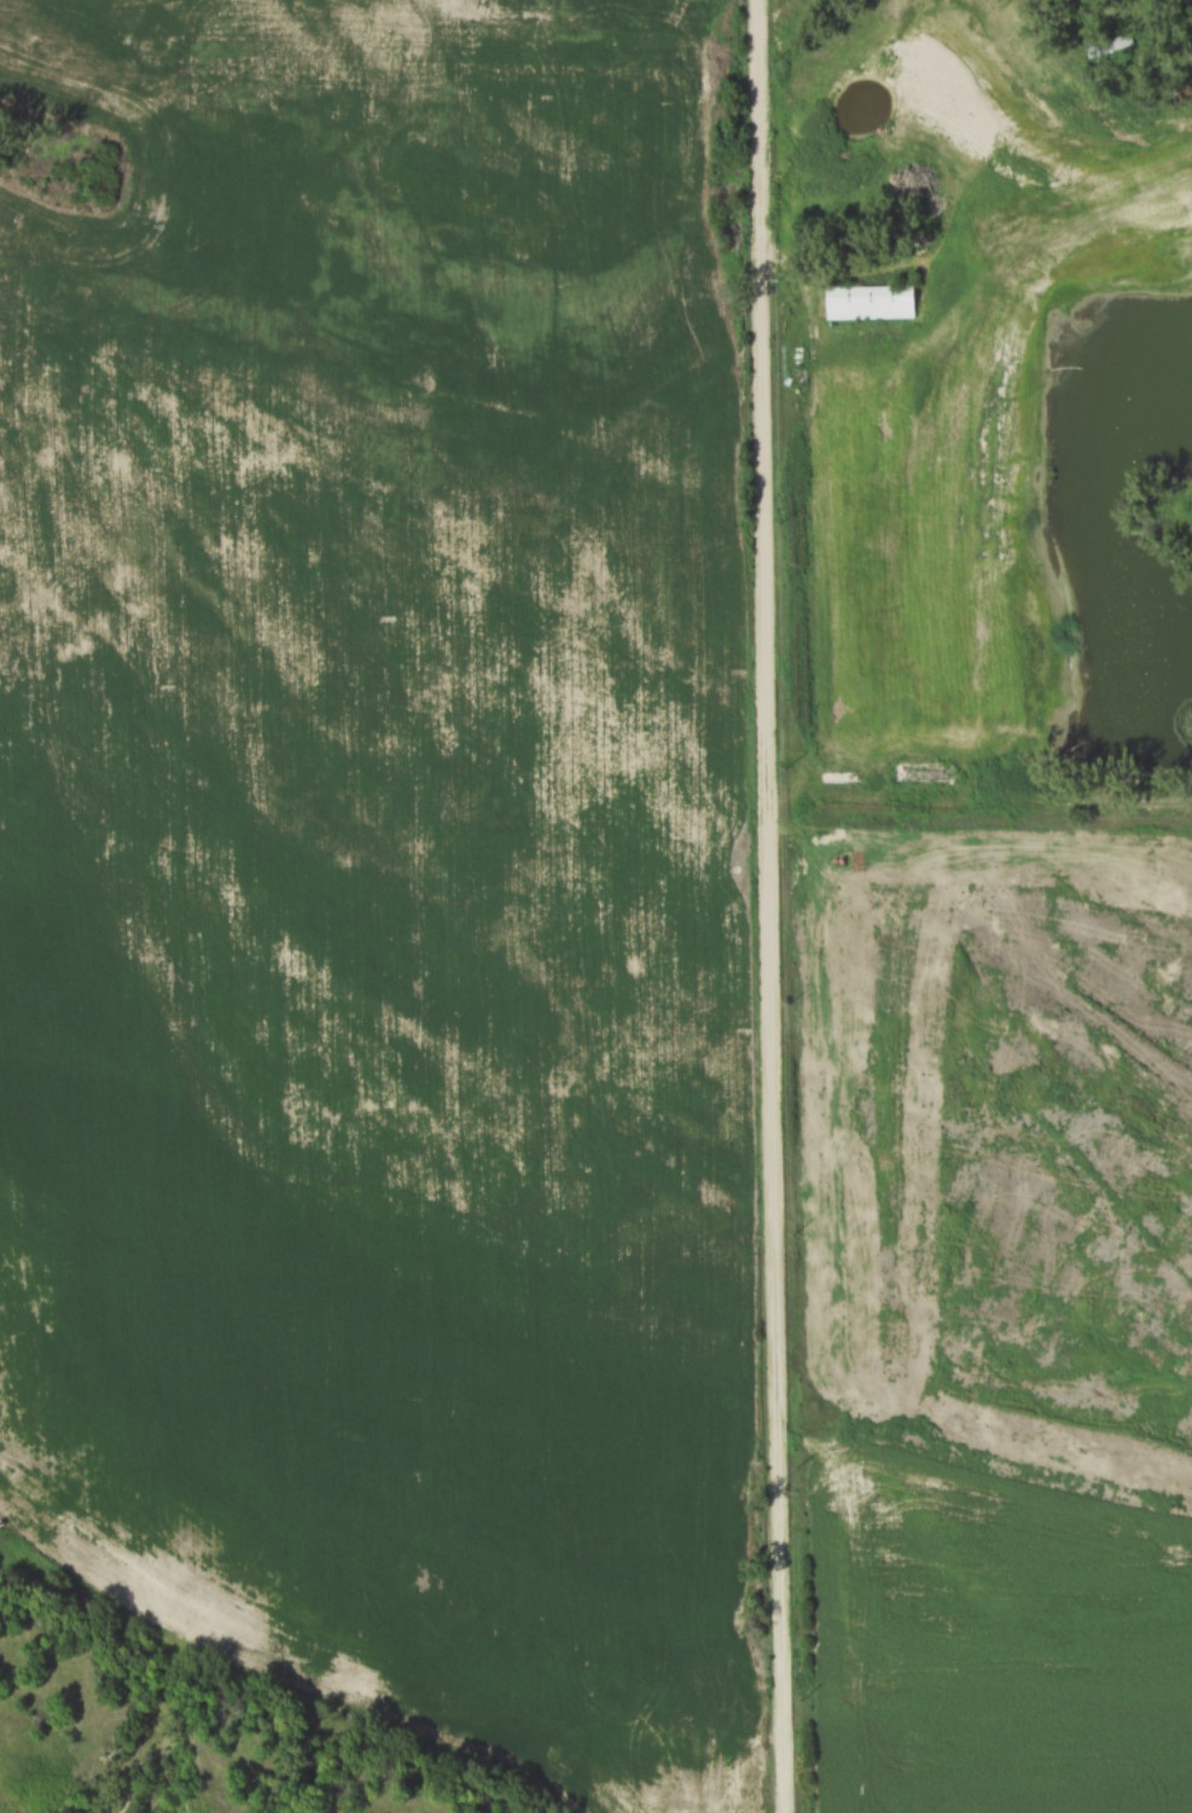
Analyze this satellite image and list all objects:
building: (1104, 47)
building: (864, 306)
road: (764, 906)

